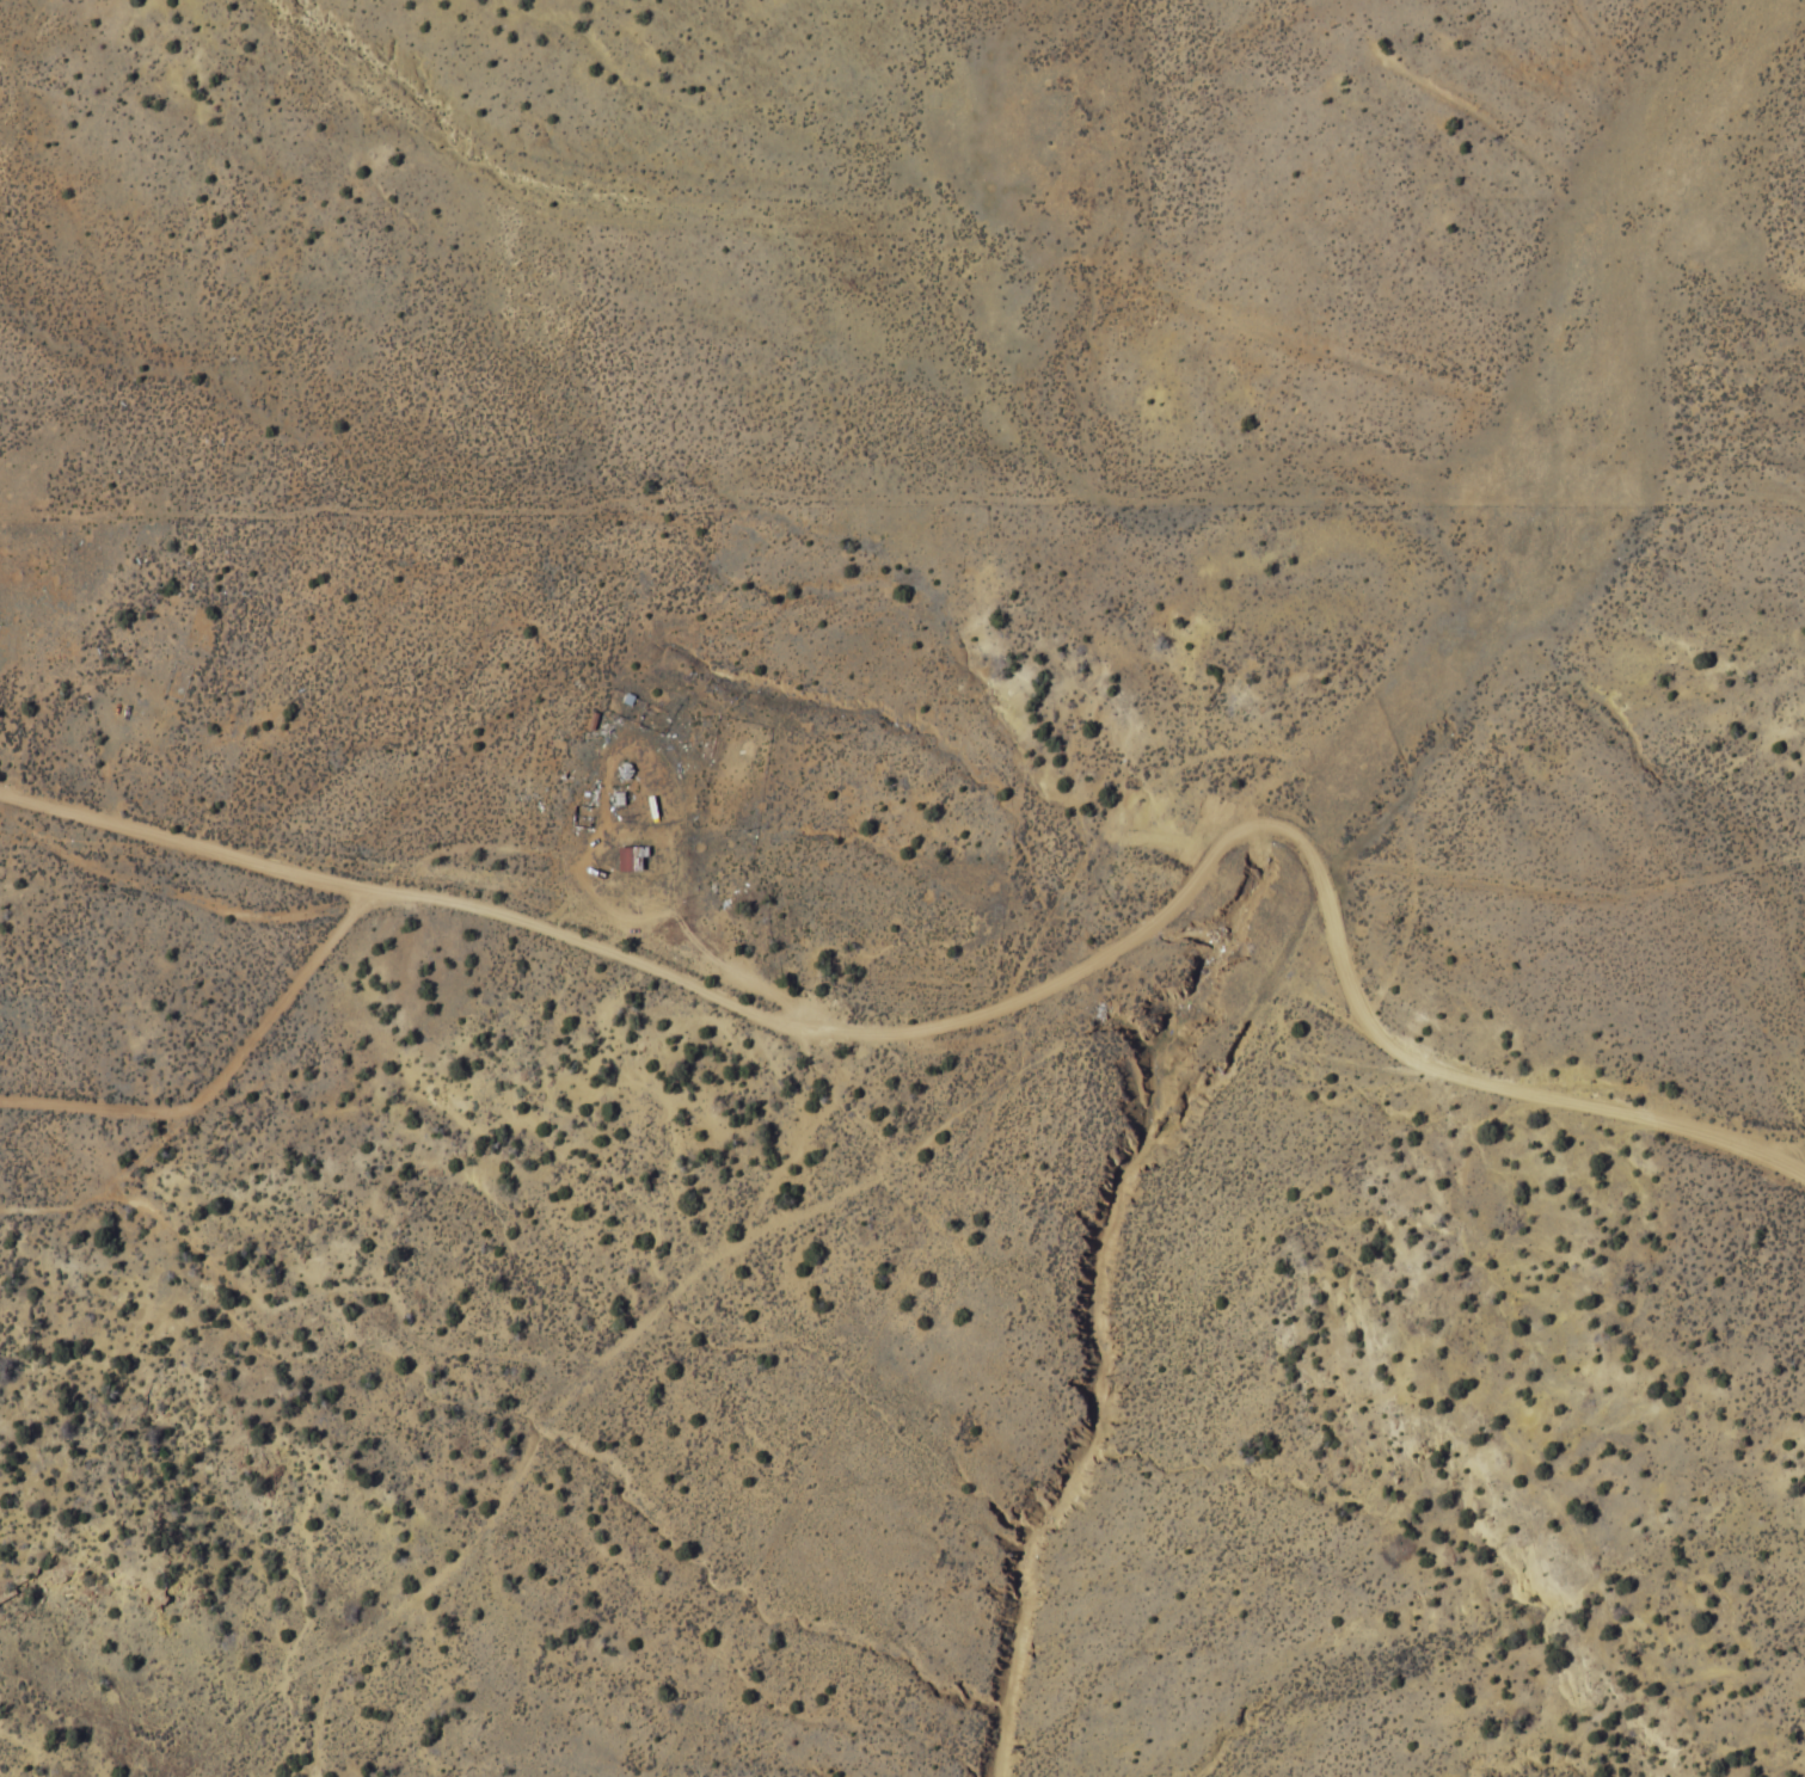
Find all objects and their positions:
building: (633, 859)
road: (1266, 1026)

